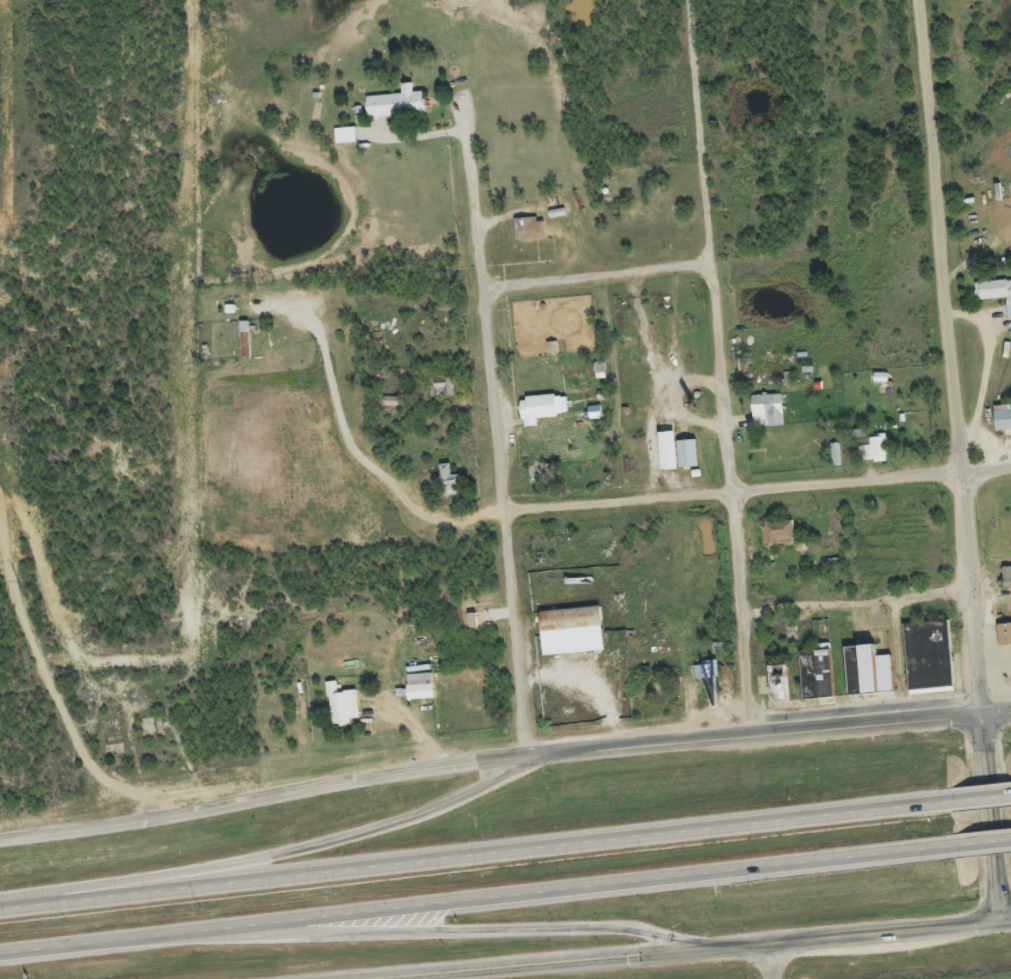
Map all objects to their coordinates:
building: (393, 111)
building: (342, 142)
building: (527, 236)
road: (939, 238)
road: (596, 277)
building: (992, 297)
building: (1007, 316)
building: (241, 347)
road: (719, 367)
building: (539, 416)
building: (764, 418)
building: (591, 419)
building: (1001, 427)
road: (495, 429)
road: (351, 449)
building: (873, 455)
building: (664, 458)
building: (683, 461)
building: (447, 488)
road: (756, 494)
building: (775, 541)
building: (1005, 585)
road: (969, 596)
road: (856, 604)
building: (568, 638)
building: (1003, 642)
building: (925, 662)
building: (703, 678)
building: (416, 690)
road: (48, 693)
building: (339, 712)
road: (995, 713)
road: (763, 734)
road: (273, 797)
road: (974, 797)
road: (991, 819)
road: (976, 841)
road: (280, 852)
road: (469, 853)
road: (470, 898)
road: (1006, 923)
road: (421, 929)
road: (692, 950)
road: (766, 963)

